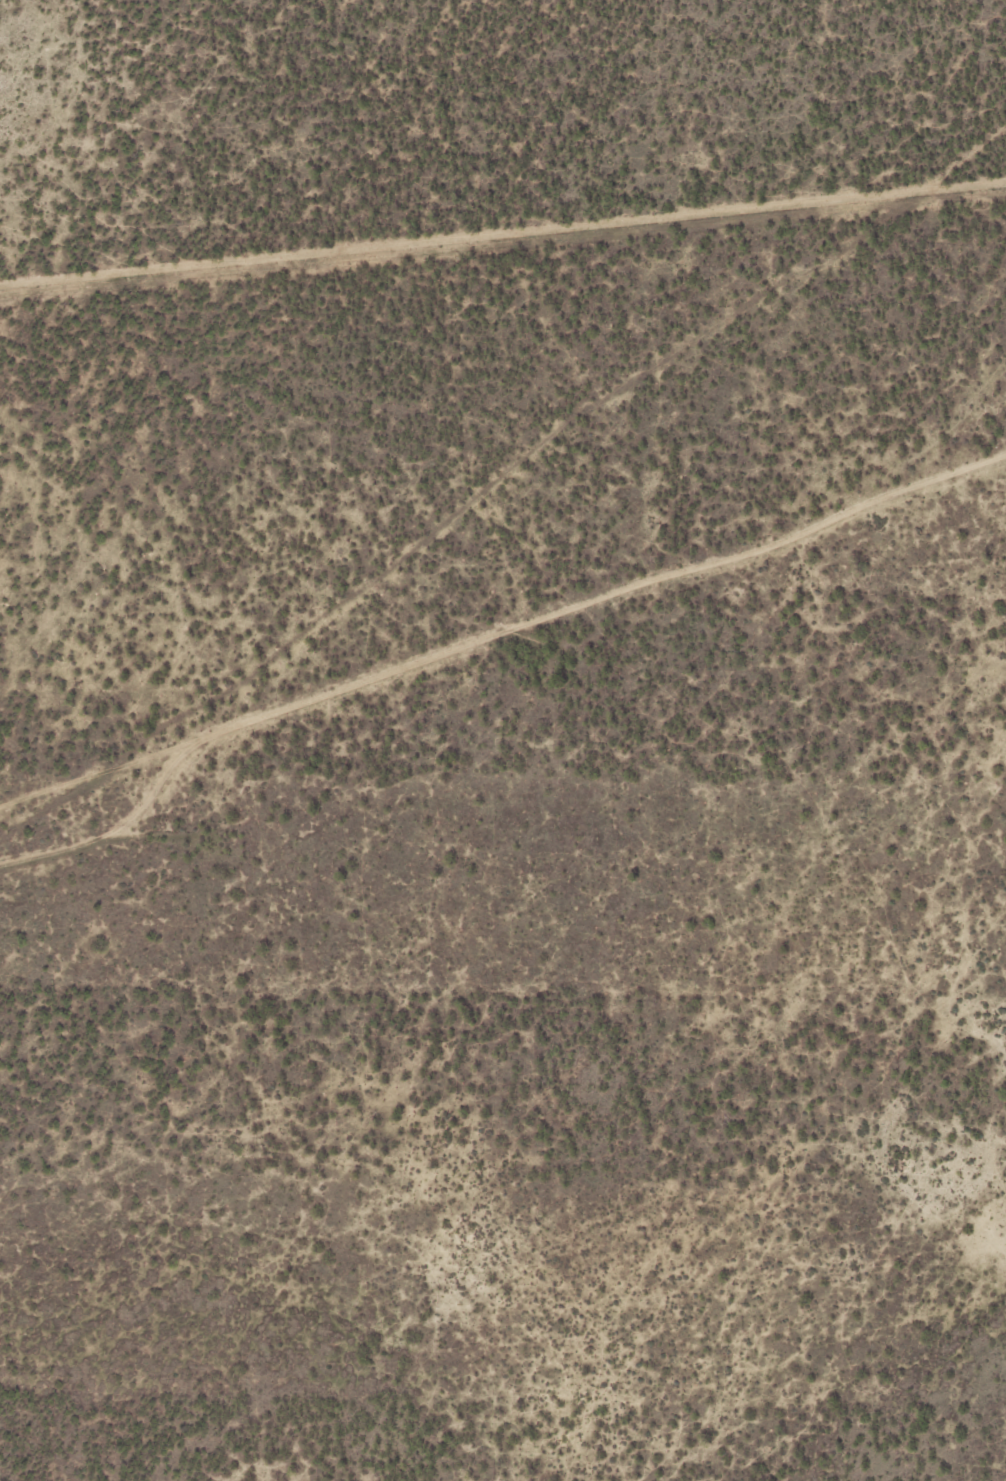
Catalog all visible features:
road: (503, 235)
road: (779, 543)
road: (270, 765)

